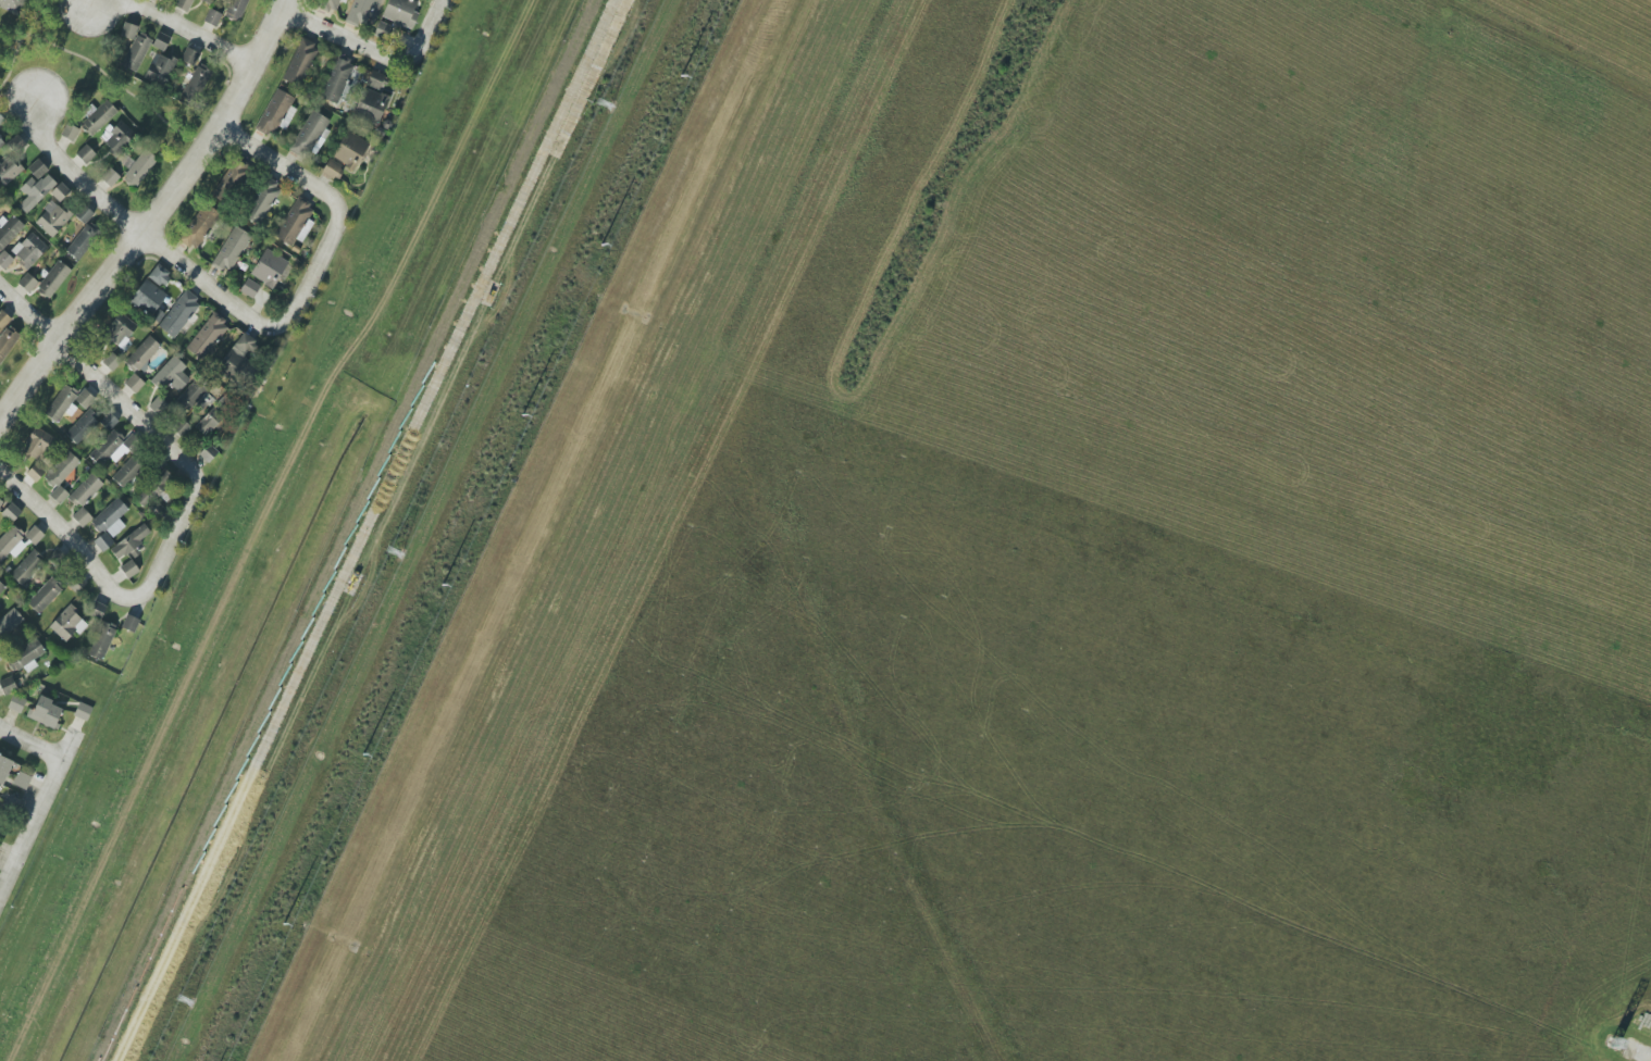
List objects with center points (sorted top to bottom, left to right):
building: (208, 1)
road: (442, 2)
building: (12, 4)
building: (183, 4)
building: (330, 4)
building: (236, 9)
building: (401, 12)
building: (361, 13)
building: (212, 17)
road: (167, 24)
building: (128, 30)
building: (384, 30)
building: (161, 41)
road: (373, 50)
building: (136, 52)
building: (189, 57)
building: (300, 62)
building: (160, 70)
building: (336, 79)
building: (377, 80)
building: (196, 83)
power tower: (608, 90)
building: (371, 104)
building: (276, 112)
building: (99, 116)
building: (1, 118)
building: (70, 132)
building: (117, 136)
building: (1, 142)
building: (349, 150)
building: (86, 154)
road: (285, 166)
building: (140, 167)
building: (38, 168)
building: (333, 170)
building: (8, 173)
building: (110, 177)
building: (229, 182)
building: (36, 191)
building: (60, 191)
building: (262, 200)
building: (0, 203)
building: (84, 214)
road: (152, 216)
building: (52, 219)
building: (296, 223)
building: (199, 226)
building: (10, 230)
building: (83, 241)
building: (29, 250)
building: (231, 250)
building: (5, 260)
road: (184, 267)
building: (269, 267)
building: (53, 279)
building: (27, 283)
building: (249, 288)
building: (151, 294)
building: (179, 314)
building: (3, 320)
building: (121, 329)
building: (207, 337)
building: (239, 352)
building: (142, 353)
building: (111, 362)
building: (169, 374)
building: (134, 383)
road: (98, 388)
building: (189, 397)
building: (66, 402)
building: (158, 404)
building: (109, 421)
building: (209, 421)
building: (82, 427)
building: (37, 444)
building: (114, 447)
building: (208, 453)
building: (61, 469)
building: (36, 472)
building: (127, 472)
building: (154, 488)
building: (86, 490)
building: (59, 495)
building: (0, 503)
building: (11, 512)
building: (82, 516)
building: (110, 519)
building: (34, 535)
building: (103, 541)
building: (131, 541)
building: (11, 544)
power tower: (397, 547)
building: (26, 567)
building: (129, 569)
building: (77, 584)
building: (1, 588)
road: (101, 591)
building: (45, 596)
building: (9, 621)
building: (129, 623)
building: (69, 624)
building: (102, 640)
building: (27, 656)
building: (8, 685)
building: (16, 703)
building: (83, 711)
building: (46, 712)
road: (30, 742)
building: (4, 767)
building: (22, 781)
road: (36, 811)
power tower: (186, 990)

